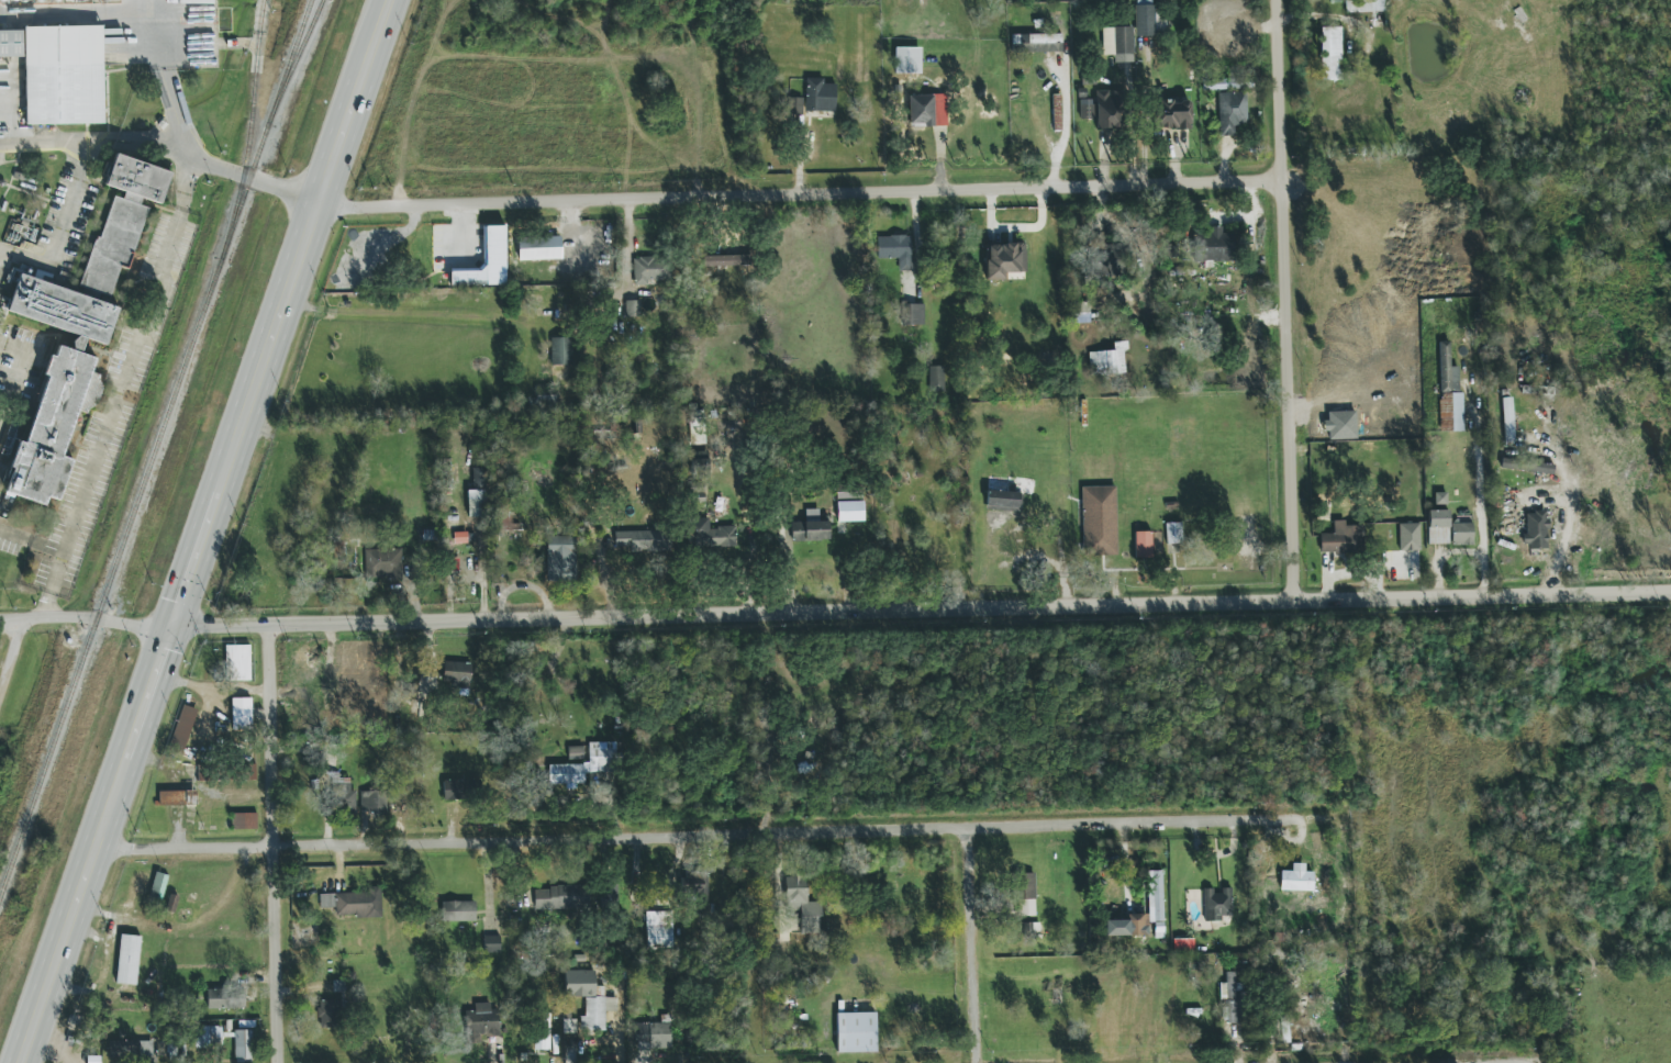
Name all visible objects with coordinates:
building: (1364, 5)
road: (93, 19)
road: (1180, 40)
building: (1117, 41)
building: (1037, 43)
building: (11, 44)
building: (1332, 54)
building: (907, 60)
building: (64, 76)
road: (160, 78)
building: (820, 96)
building: (796, 105)
building: (1087, 109)
building: (1111, 109)
building: (927, 110)
building: (1057, 112)
building: (1232, 112)
building: (1172, 114)
road: (1072, 123)
railway: (247, 131)
road: (631, 195)
road: (59, 226)
road: (464, 232)
building: (1219, 245)
building: (539, 248)
building: (895, 250)
building: (1109, 259)
building: (725, 260)
building: (1004, 260)
building: (487, 261)
building: (650, 270)
road: (1283, 300)
building: (633, 309)
building: (913, 314)
building: (79, 329)
building: (561, 351)
building: (1109, 360)
building: (937, 379)
road: (120, 380)
building: (1449, 392)
building: (1507, 419)
building: (697, 428)
railway: (155, 446)
building: (700, 462)
building: (1527, 466)
road: (1478, 484)
building: (849, 495)
building: (1440, 499)
building: (1004, 501)
building: (476, 503)
building: (1169, 506)
building: (850, 512)
road: (1569, 517)
building: (1100, 521)
building: (505, 523)
building: (1438, 527)
road: (204, 529)
building: (1536, 530)
building: (810, 531)
building: (1171, 531)
building: (1462, 534)
building: (710, 535)
building: (1408, 537)
building: (1343, 539)
building: (643, 540)
building: (1141, 542)
road: (1441, 557)
building: (560, 559)
building: (382, 563)
road: (921, 611)
road: (86, 618)
road: (8, 660)
building: (236, 664)
building: (339, 673)
building: (456, 673)
building: (242, 714)
building: (183, 726)
building: (576, 752)
building: (586, 765)
building: (250, 772)
building: (457, 790)
building: (343, 796)
building: (177, 798)
building: (374, 802)
building: (246, 820)
road: (702, 836)
road: (270, 844)
building: (1296, 879)
road: (486, 881)
building: (158, 886)
building: (1026, 895)
building: (1155, 896)
building: (561, 897)
building: (698, 898)
building: (354, 903)
building: (802, 903)
building: (1217, 904)
building: (452, 908)
building: (1137, 925)
building: (659, 929)
building: (492, 944)
road: (969, 945)
road: (746, 949)
building: (126, 959)
building: (225, 997)
building: (590, 999)
building: (1232, 1000)
building: (332, 1008)
road: (1243, 1019)
building: (481, 1020)
building: (569, 1027)
building: (543, 1031)
building: (856, 1032)
building: (204, 1033)
building: (654, 1034)
building: (216, 1036)
building: (244, 1047)
building: (123, 1049)
building: (146, 1049)
building: (172, 1052)
road: (1486, 1062)

